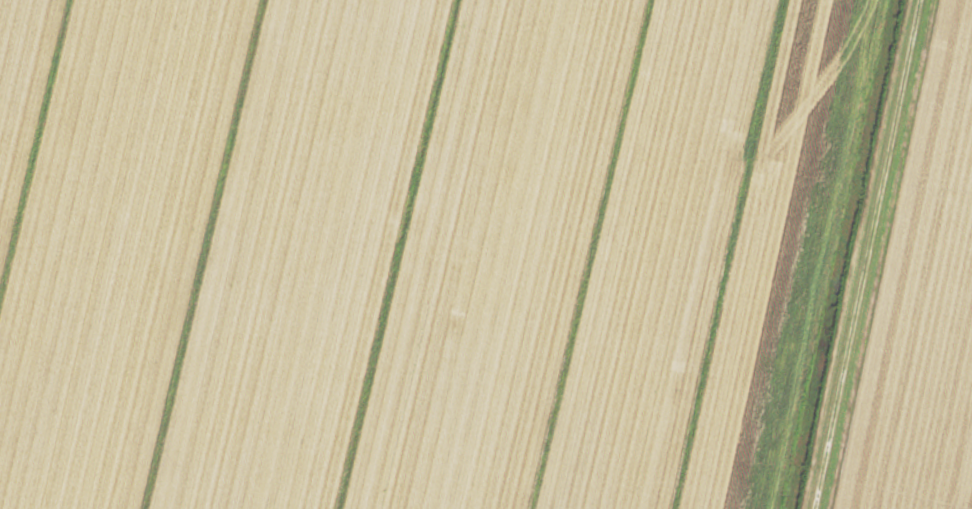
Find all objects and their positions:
road: (871, 254)

